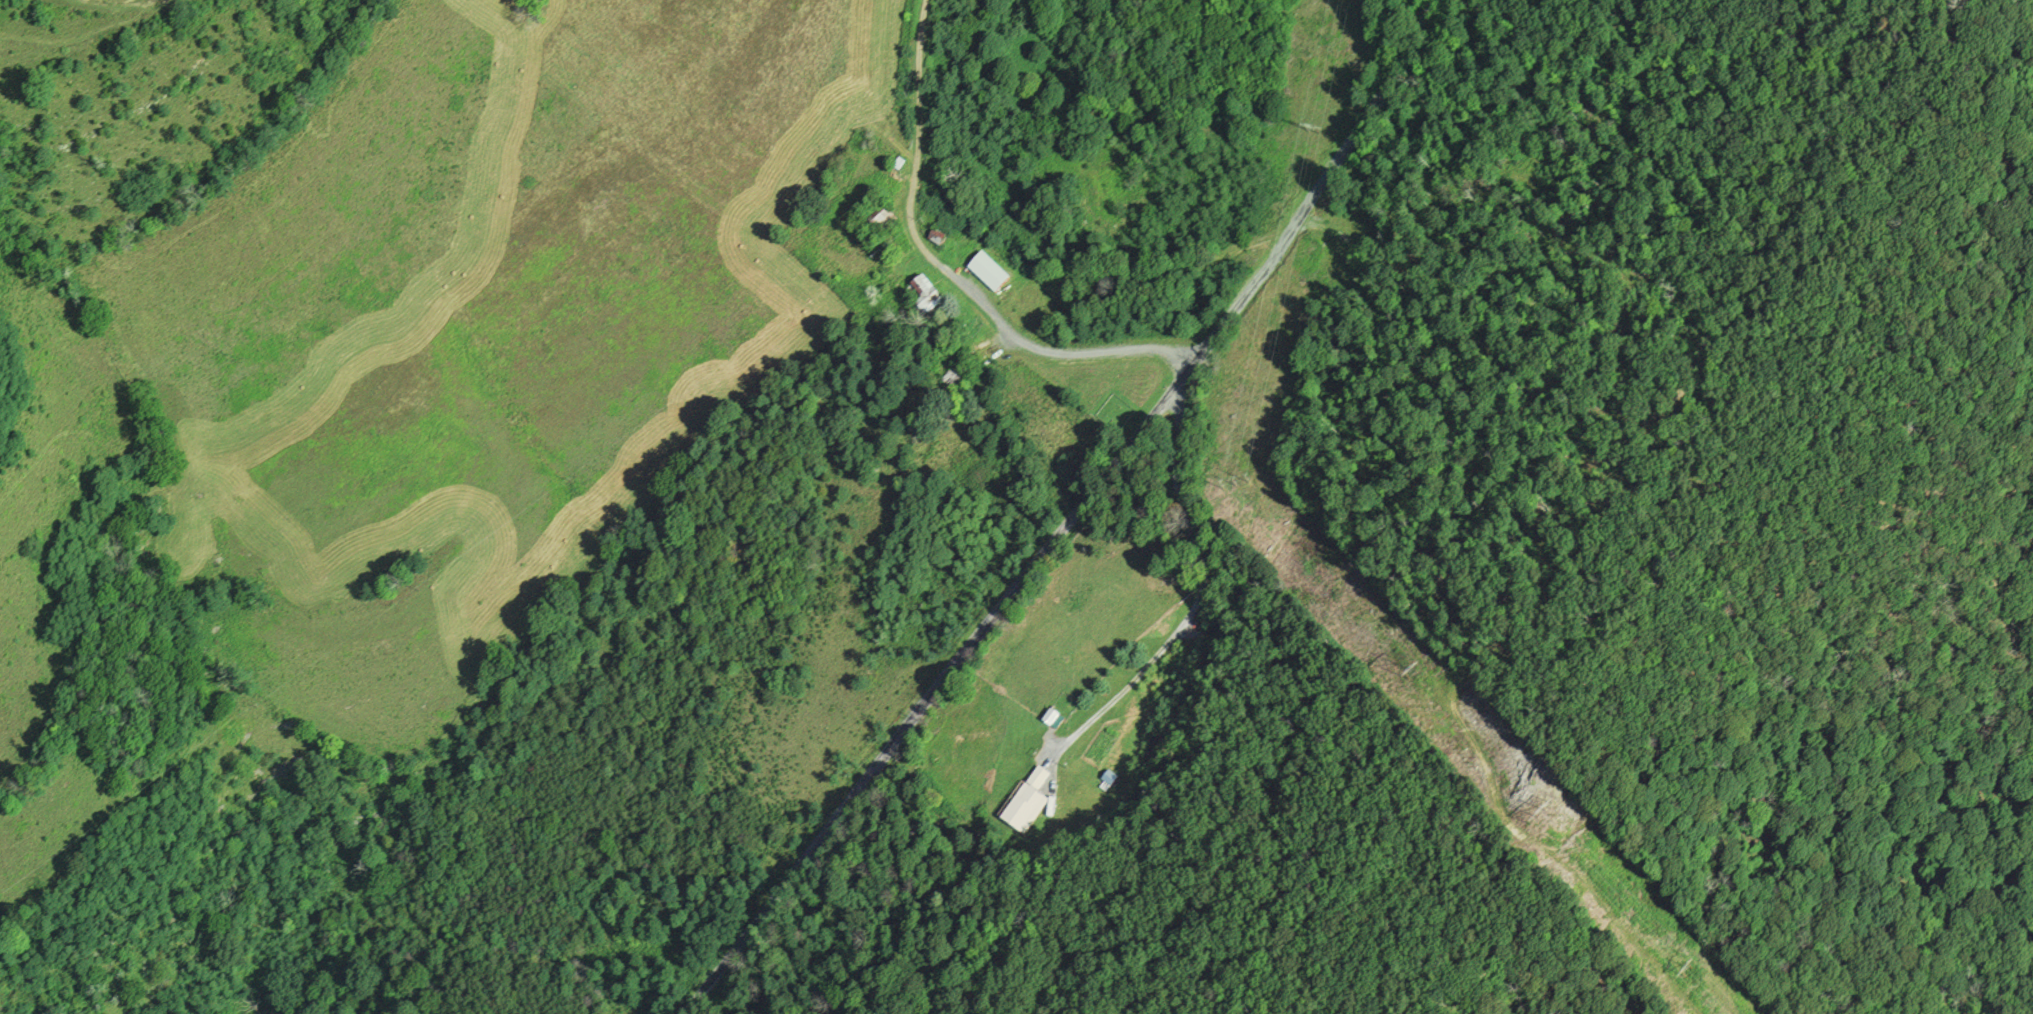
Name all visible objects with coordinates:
road: (107, 6)
road: (1416, 49)
power tower: (1315, 133)
road: (947, 269)
building: (986, 274)
building: (924, 296)
power tower: (1232, 488)
road: (1040, 557)
road: (1200, 594)
power tower: (1408, 679)
building: (1050, 718)
building: (1110, 777)
building: (1026, 804)
power tower: (1538, 816)

